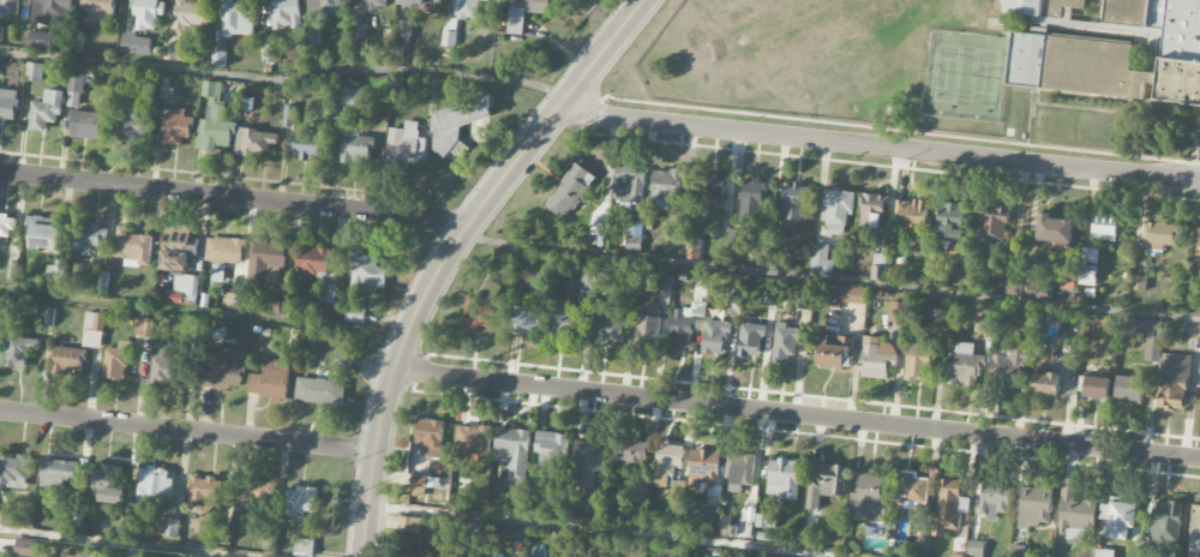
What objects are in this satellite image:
building: (415, 2)
building: (373, 5)
building: (325, 6)
building: (1064, 6)
building: (8, 7)
building: (1022, 7)
building: (466, 8)
building: (100, 10)
building: (54, 11)
building: (148, 13)
building: (524, 13)
building: (1128, 13)
building: (191, 14)
building: (286, 14)
building: (238, 19)
building: (1177, 28)
building: (403, 31)
park: (804, 32)
building: (41, 41)
building: (136, 44)
building: (176, 53)
building: (269, 55)
building: (218, 59)
building: (1096, 70)
building: (34, 72)
park: (964, 77)
road: (272, 83)
building: (76, 88)
building: (349, 96)
building: (8, 106)
building: (46, 112)
building: (287, 116)
building: (214, 121)
building: (134, 124)
building: (85, 125)
building: (176, 126)
building: (456, 126)
building: (257, 143)
building: (306, 145)
building: (406, 145)
road: (881, 146)
building: (356, 150)
building: (629, 186)
building: (710, 190)
building: (570, 191)
building: (665, 191)
road: (233, 197)
building: (751, 202)
building: (794, 203)
building: (836, 210)
building: (871, 211)
building: (913, 217)
building: (952, 222)
building: (994, 224)
building: (6, 227)
building: (1104, 228)
building: (1055, 229)
building: (43, 233)
building: (634, 236)
building: (1159, 236)
building: (88, 238)
building: (1198, 238)
building: (1052, 246)
building: (133, 247)
building: (692, 250)
building: (176, 251)
building: (224, 251)
road: (449, 252)
building: (1090, 256)
building: (500, 257)
building: (313, 260)
building: (821, 260)
building: (266, 263)
building: (878, 268)
building: (366, 271)
building: (1087, 275)
road: (830, 278)
building: (587, 281)
building: (1067, 282)
building: (1139, 283)
building: (185, 287)
building: (1027, 291)
building: (733, 294)
building: (851, 295)
building: (768, 299)
building: (803, 300)
building: (234, 301)
building: (328, 303)
road: (203, 311)
building: (898, 312)
building: (355, 315)
building: (480, 315)
building: (566, 318)
building: (942, 319)
building: (528, 322)
building: (983, 327)
building: (143, 328)
building: (608, 329)
building: (647, 329)
building: (94, 330)
building: (680, 330)
building: (715, 337)
building: (750, 341)
building: (786, 342)
building: (18, 347)
building: (1152, 348)
building: (834, 352)
building: (877, 358)
building: (67, 360)
building: (118, 361)
building: (343, 361)
building: (1009, 361)
building: (918, 363)
building: (166, 364)
building: (964, 365)
building: (226, 370)
building: (270, 381)
building: (1174, 382)
building: (1046, 383)
building: (1129, 390)
building: (319, 391)
road: (797, 414)
road: (187, 430)
building: (430, 437)
building: (473, 442)
building: (622, 445)
building: (552, 449)
building: (512, 453)
building: (631, 457)
building: (589, 461)
building: (668, 461)
building: (703, 467)
building: (13, 472)
building: (740, 472)
building: (58, 473)
building: (784, 479)
building: (824, 483)
building: (107, 484)
building: (155, 485)
building: (419, 485)
building: (913, 487)
building: (205, 491)
building: (253, 491)
building: (994, 499)
building: (869, 501)
building: (301, 502)
building: (950, 505)
building: (1036, 507)
building: (1075, 514)
building: (709, 516)
building: (1117, 519)
building: (766, 521)
building: (1165, 522)
building: (409, 527)
building: (170, 528)
road: (595, 532)
building: (1195, 532)
road: (128, 543)
building: (304, 547)
building: (25, 549)
building: (976, 549)
building: (1018, 551)
building: (1103, 553)
building: (88, 555)
building: (125, 556)

